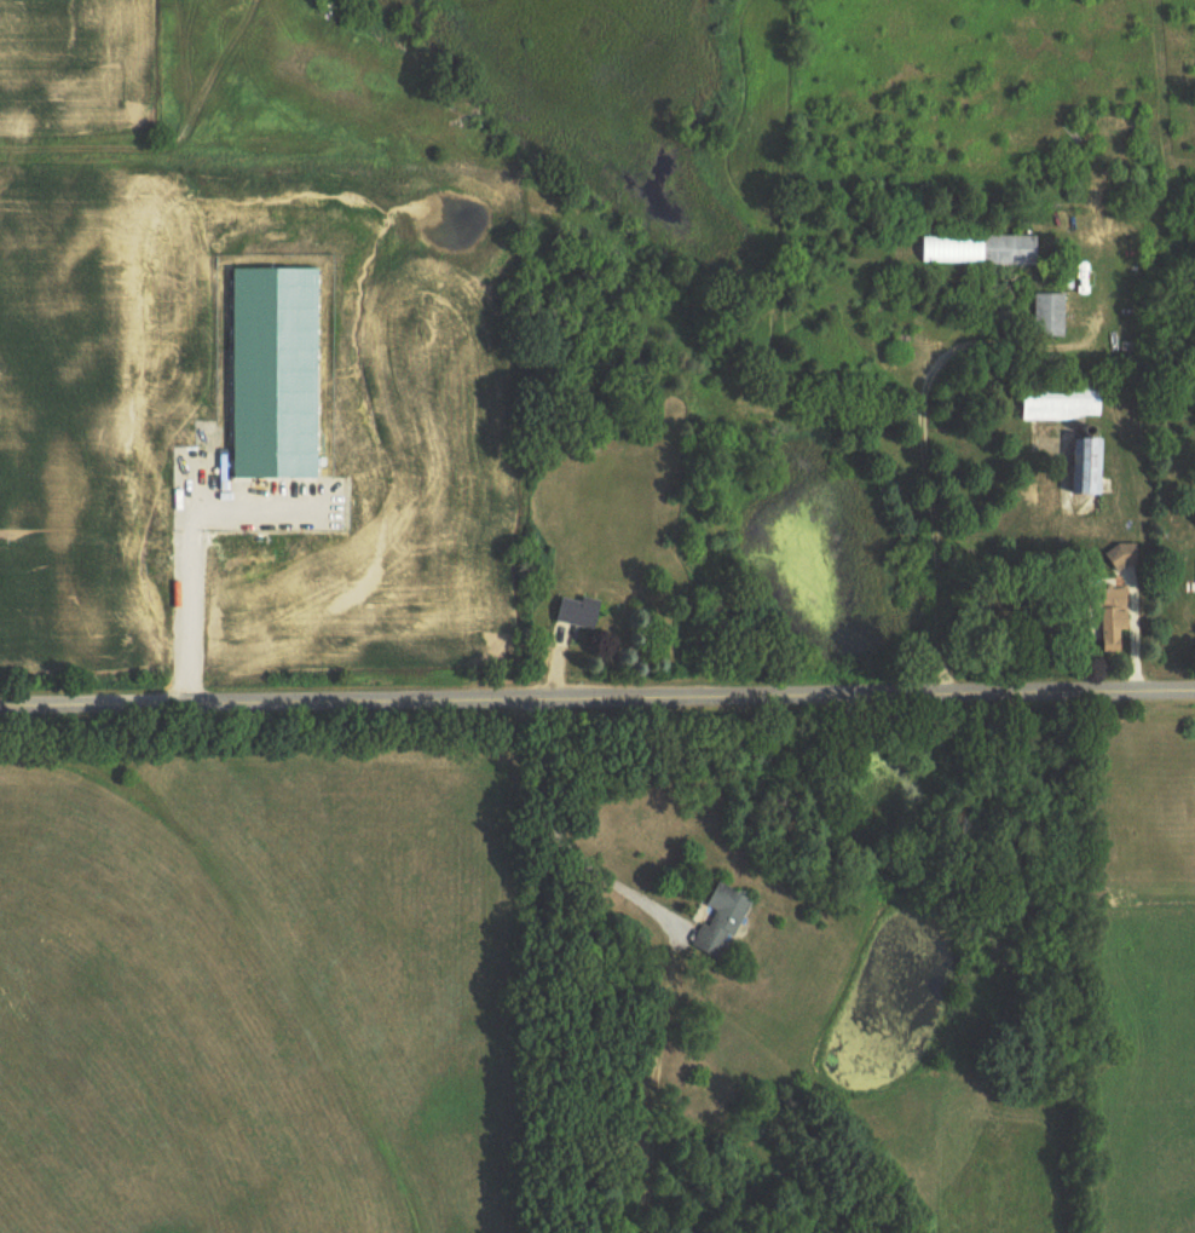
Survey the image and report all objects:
building: (1011, 252)
building: (1050, 316)
building: (1063, 404)
road: (923, 445)
building: (1090, 468)
building: (1124, 558)
building: (581, 612)
road: (189, 620)
building: (1113, 620)
road: (597, 701)
road: (558, 840)
building: (723, 922)

